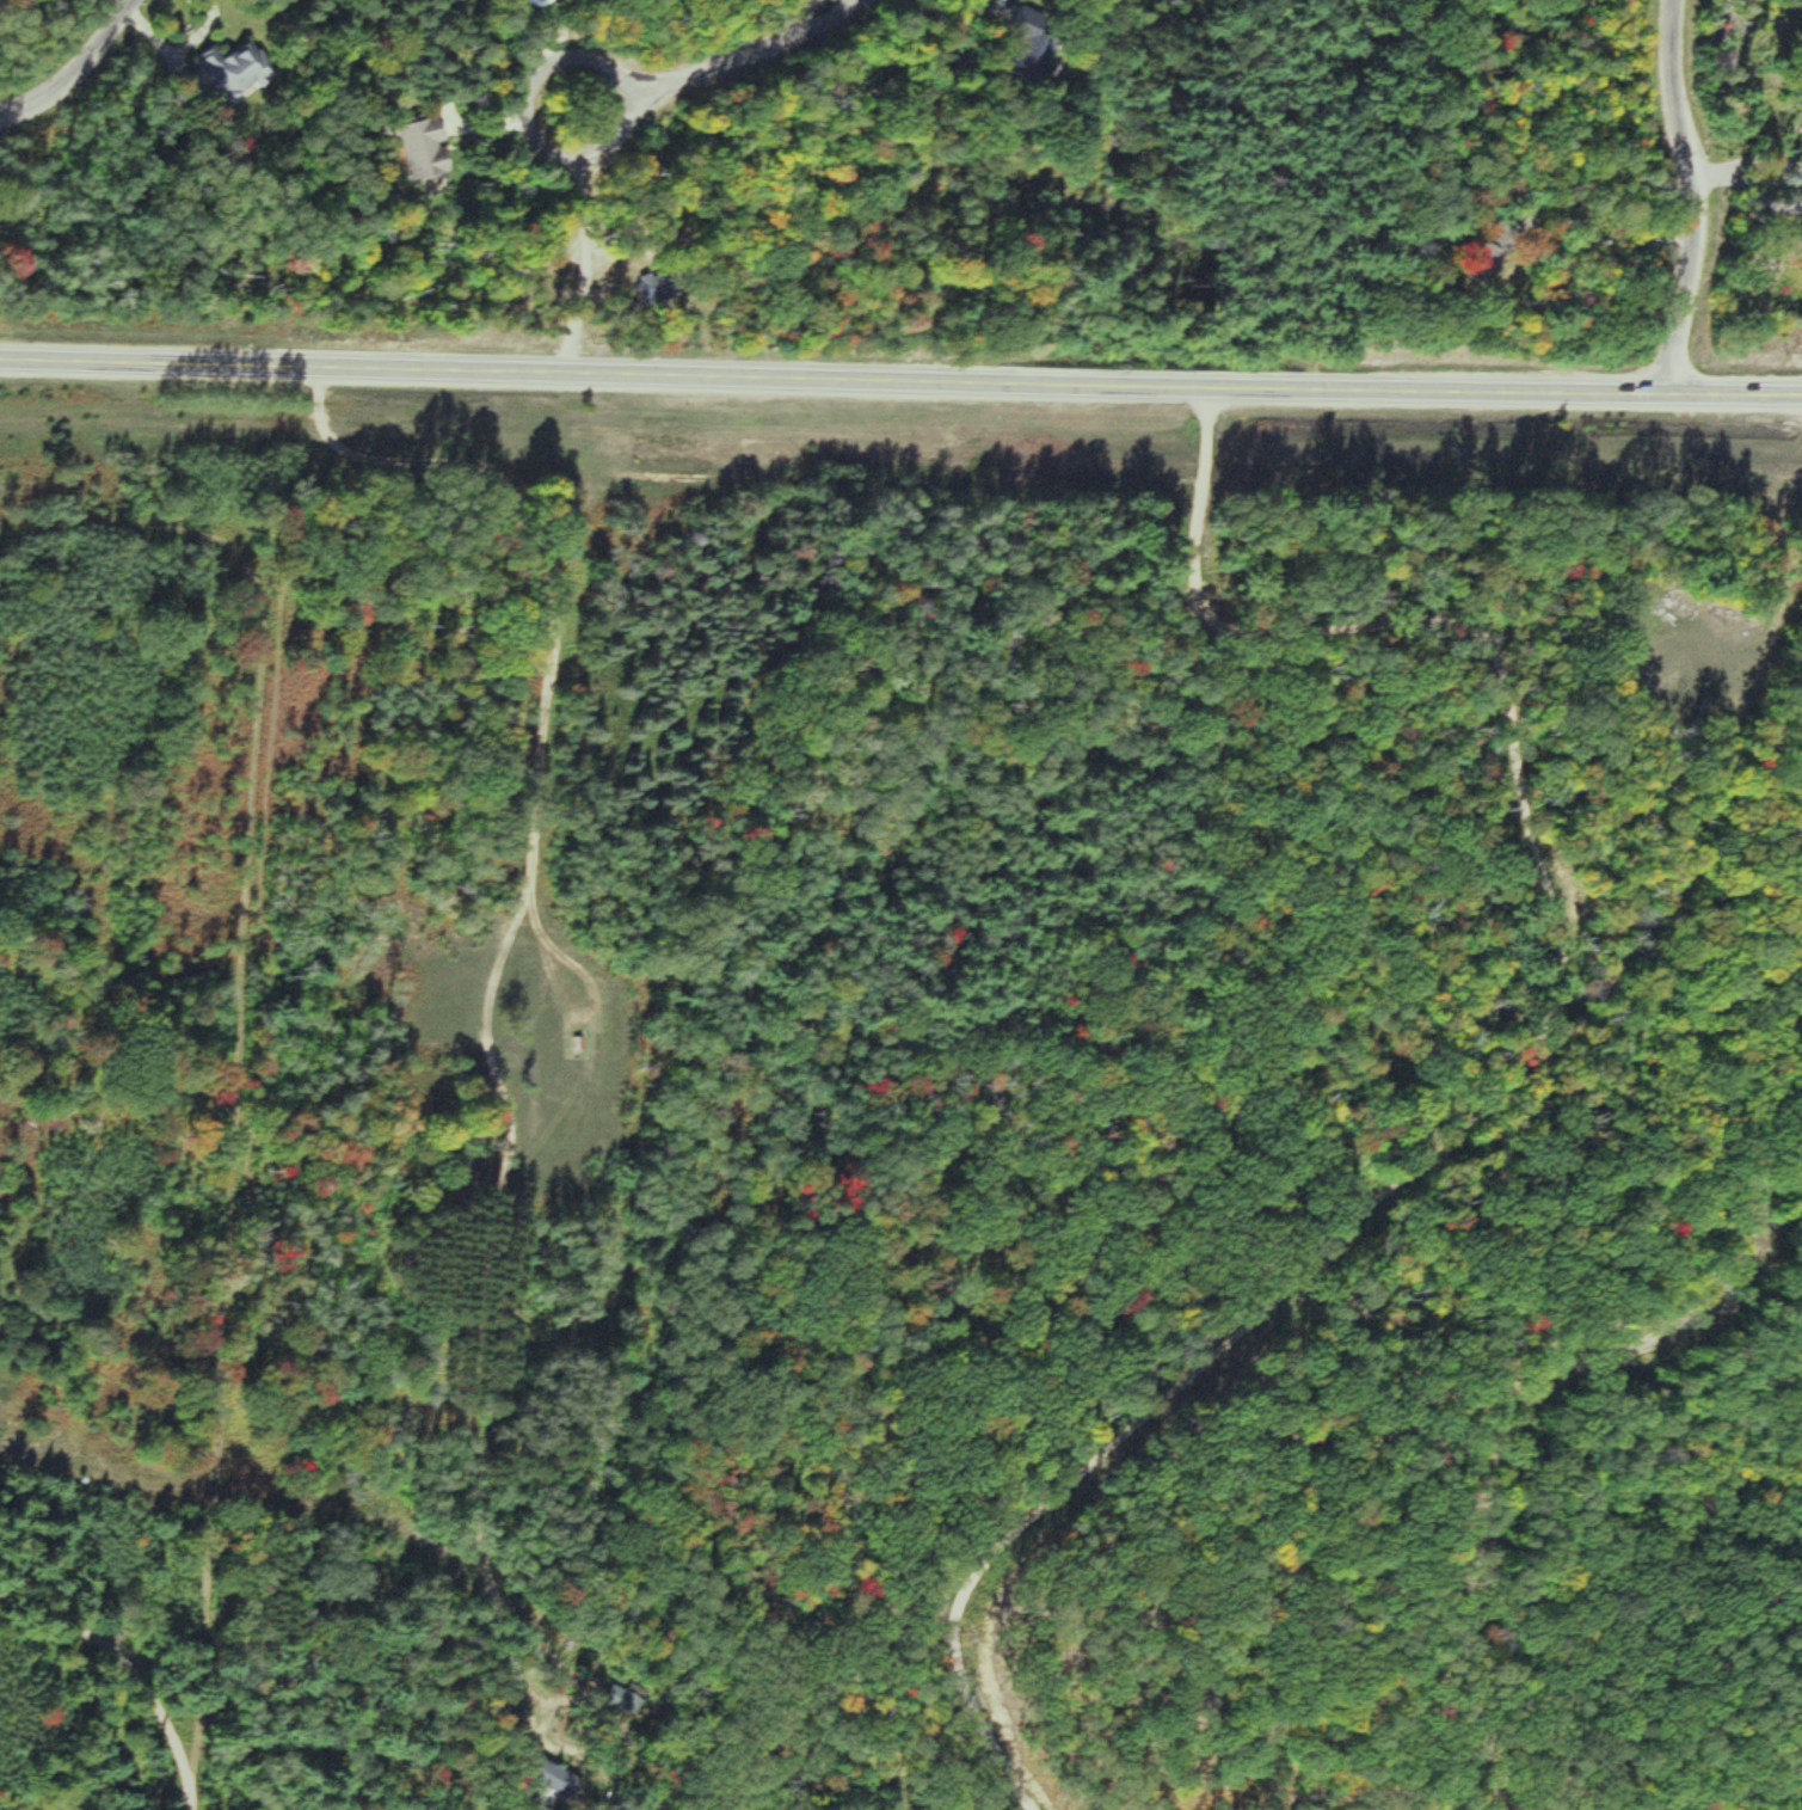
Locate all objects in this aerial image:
building: (1014, 63)
road: (711, 66)
building: (219, 67)
road: (78, 70)
building: (407, 146)
road: (1703, 197)
building: (1471, 264)
road: (900, 385)
road: (503, 938)
petroleum well: (574, 983)
building: (578, 1038)
road: (240, 1044)
road: (1518, 1080)
road: (554, 1656)
road: (135, 1667)

